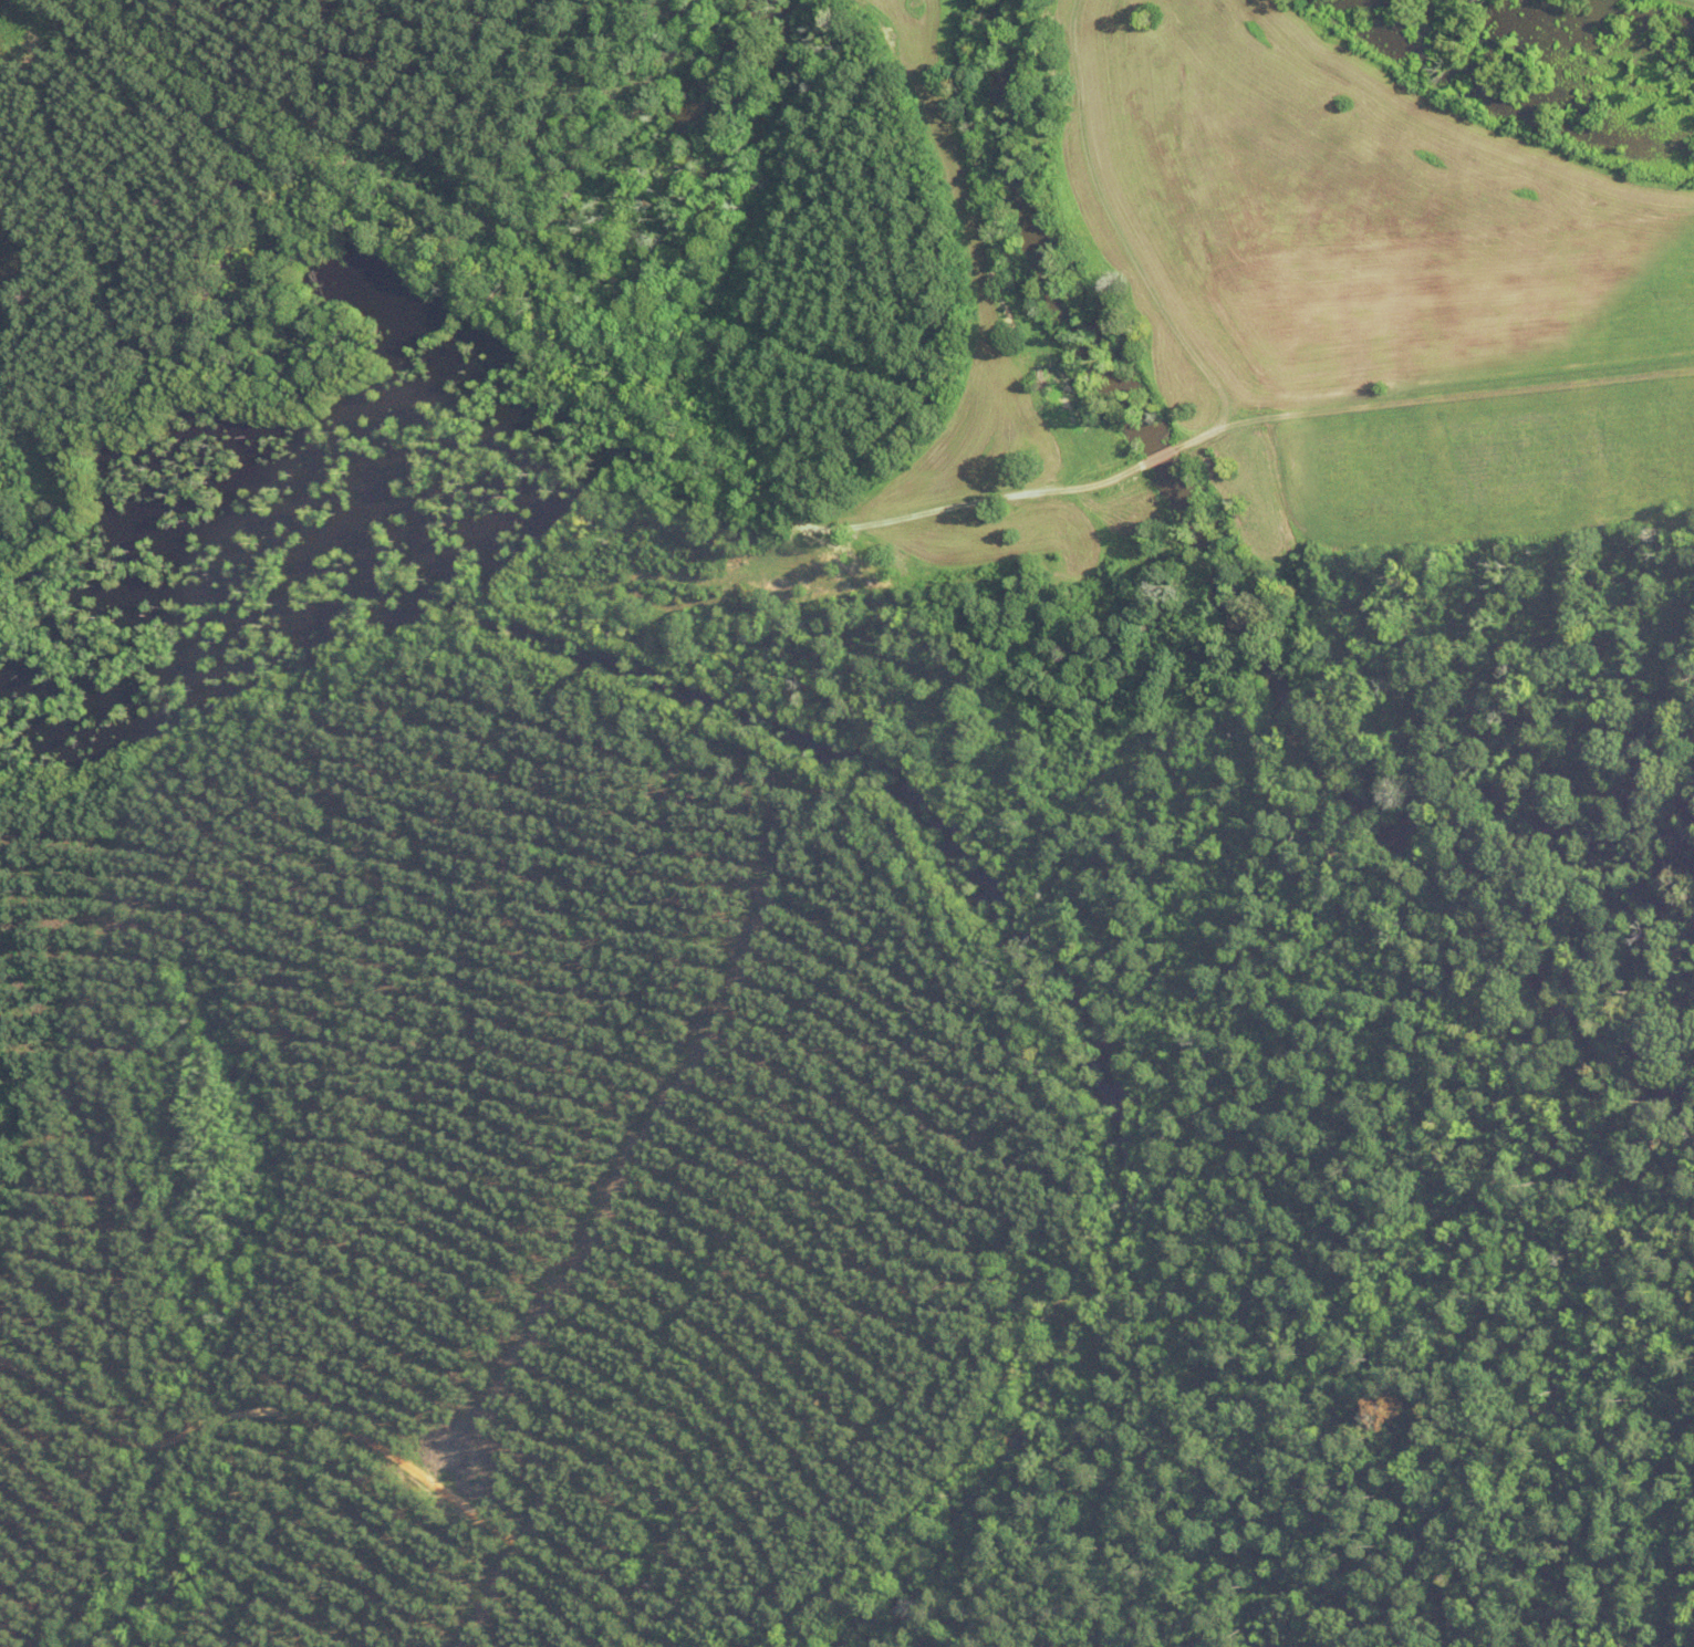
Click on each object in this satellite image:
road: (911, 634)

